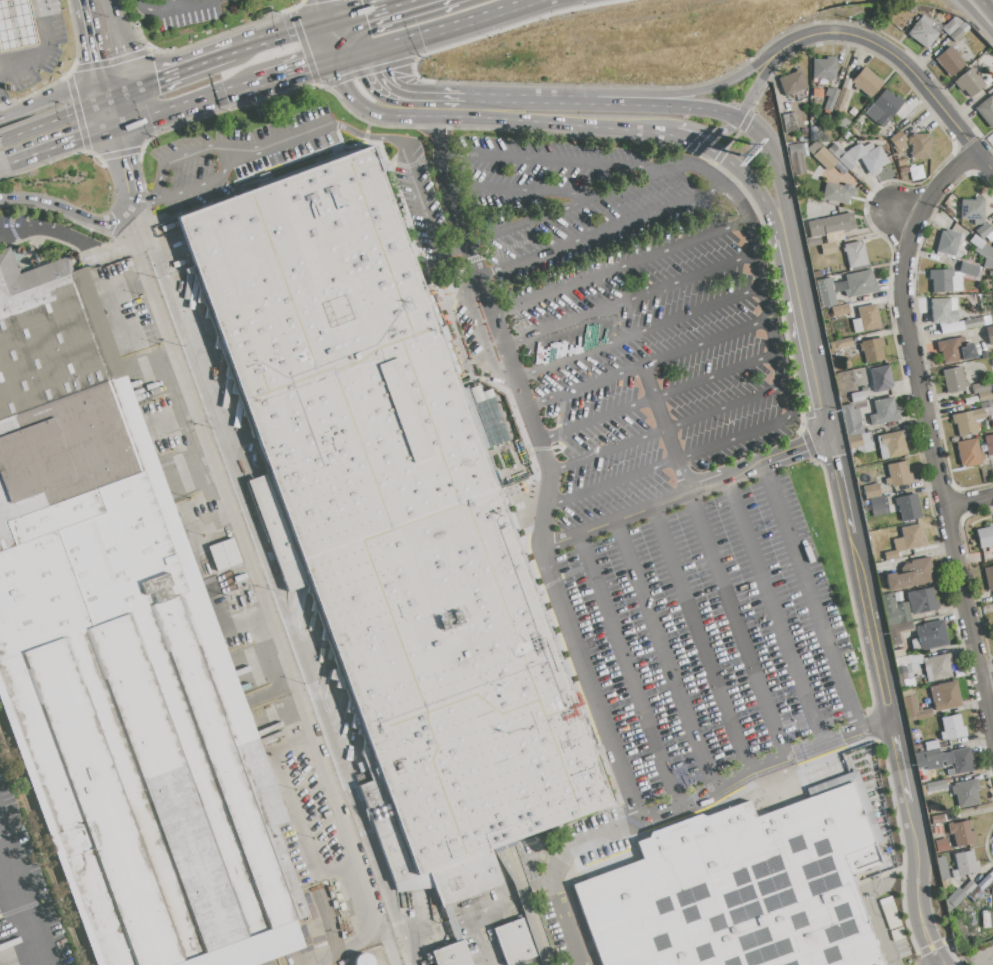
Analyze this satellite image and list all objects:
road: (2, 0)
road: (525, 2)
road: (172, 4)
road: (138, 7)
road: (175, 7)
parking lot: (181, 11)
road: (324, 12)
road: (370, 12)
traffic signals: (363, 15)
building: (947, 17)
road: (975, 18)
building: (956, 21)
road: (25, 23)
road: (8, 25)
building: (18, 25)
gas station: (18, 25)
road: (441, 25)
building: (950, 27)
building: (963, 28)
building: (924, 32)
building: (956, 35)
road: (344, 37)
road: (283, 38)
road: (329, 42)
road: (104, 47)
road: (49, 50)
road: (32, 51)
road: (14, 54)
road: (345, 54)
traffic signals: (107, 59)
road: (900, 60)
building: (949, 61)
traffic signals: (305, 65)
building: (823, 68)
road: (287, 70)
traffic signals: (378, 72)
road: (175, 73)
building: (986, 80)
traffic signals: (155, 81)
building: (839, 81)
building: (867, 82)
building: (969, 82)
building: (792, 83)
building: (846, 84)
building: (988, 86)
road: (754, 90)
road: (401, 91)
building: (817, 93)
road: (104, 94)
road: (682, 95)
building: (830, 99)
road: (45, 100)
road: (525, 100)
building: (839, 102)
road: (182, 103)
building: (887, 106)
road: (664, 107)
road: (117, 110)
road: (371, 110)
building: (986, 111)
road: (1, 114)
building: (873, 114)
road: (57, 118)
building: (789, 122)
building: (844, 125)
road: (555, 126)
road: (706, 130)
building: (812, 132)
building: (803, 133)
building: (845, 135)
road: (284, 137)
traffic signals: (80, 138)
building: (800, 140)
building: (898, 142)
road: (64, 143)
road: (703, 145)
building: (919, 146)
building: (867, 148)
building: (804, 150)
building: (834, 152)
building: (856, 152)
traffic signals: (126, 156)
road: (182, 156)
building: (849, 156)
building: (825, 159)
road: (126, 160)
building: (796, 160)
building: (873, 160)
building: (845, 162)
building: (901, 163)
road: (4, 165)
road: (778, 165)
parking lot: (202, 169)
building: (839, 169)
building: (903, 170)
building: (915, 174)
road: (411, 181)
road: (200, 183)
road: (444, 189)
road: (521, 190)
road: (64, 193)
building: (838, 193)
road: (758, 194)
road: (144, 197)
road: (130, 201)
road: (575, 201)
building: (948, 210)
building: (972, 210)
road: (905, 215)
building: (831, 225)
road: (72, 229)
road: (603, 230)
building: (983, 231)
building: (834, 236)
building: (813, 241)
building: (948, 242)
building: (976, 242)
building: (828, 248)
building: (983, 250)
building: (855, 254)
road: (620, 267)
building: (968, 270)
building: (817, 274)
road: (760, 280)
building: (941, 280)
building: (859, 284)
building: (825, 293)
road: (630, 301)
parking lot: (623, 308)
building: (840, 310)
building: (943, 310)
building: (868, 317)
building: (972, 323)
building: (857, 325)
building: (951, 327)
road: (639, 332)
road: (477, 334)
road: (805, 334)
building: (989, 335)
building: (841, 343)
building: (872, 349)
building: (955, 350)
road: (648, 364)
building: (881, 378)
building: (954, 381)
building: (980, 387)
building: (863, 389)
building: (984, 396)
building: (857, 397)
road: (659, 398)
building: (985, 404)
building: (884, 412)
building: (851, 420)
building: (966, 421)
road: (669, 428)
road: (665, 430)
road: (930, 435)
traffic signals: (827, 442)
building: (860, 443)
building: (989, 444)
building: (891, 445)
building: (969, 452)
road: (794, 454)
building: (898, 474)
road: (724, 479)
building: (871, 491)
road: (837, 495)
road: (969, 502)
building: (878, 505)
building: (908, 507)
parking lot: (204, 509)
building: (391, 509)
road: (214, 518)
road: (613, 519)
road: (542, 536)
building: (985, 536)
building: (912, 537)
road: (249, 550)
building: (223, 554)
building: (891, 555)
road: (270, 567)
building: (911, 574)
building: (989, 577)
road: (812, 598)
building: (922, 601)
building: (891, 608)
road: (776, 611)
building: (903, 613)
road: (735, 625)
parking lot: (721, 631)
building: (899, 631)
building: (932, 635)
road: (702, 637)
road: (869, 639)
road: (664, 653)
building: (899, 653)
building: (122, 657)
building: (903, 661)
building: (937, 667)
building: (910, 668)
road: (626, 669)
building: (905, 677)
road: (987, 683)
building: (907, 692)
building: (945, 696)
building: (916, 710)
building: (952, 728)
building: (930, 744)
building: (933, 759)
building: (960, 760)
road: (899, 765)
building: (935, 786)
building: (966, 793)
parking lot: (314, 805)
road: (667, 807)
road: (294, 815)
building: (956, 817)
building: (937, 819)
building: (876, 821)
building: (961, 833)
railway: (46, 837)
building: (941, 845)
building: (965, 863)
building: (954, 873)
road: (921, 883)
building: (968, 888)
building: (738, 890)
building: (992, 892)
building: (974, 893)
building: (953, 898)
road: (24, 899)
building: (988, 904)
road: (374, 905)
road: (486, 905)
building: (987, 918)
road: (439, 924)
railway: (333, 926)
road: (881, 929)
building: (512, 941)
road: (410, 951)
building: (457, 955)
building: (362, 959)
road: (992, 964)

